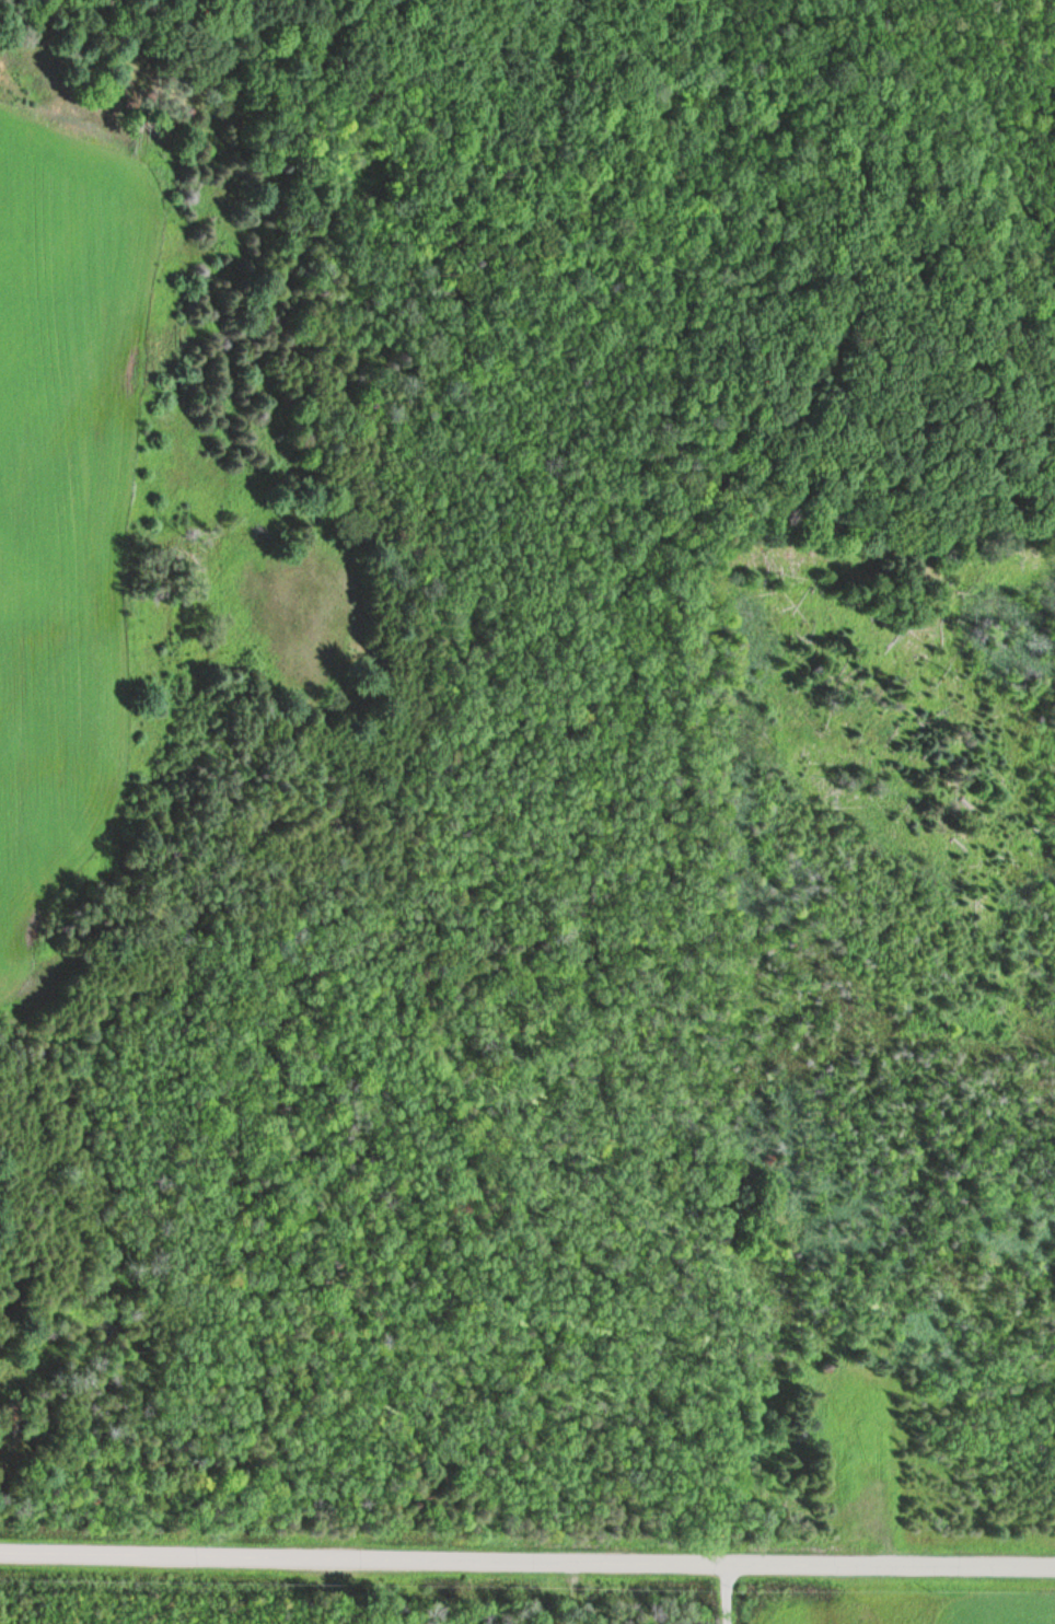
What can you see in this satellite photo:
road: (526, 1563)

